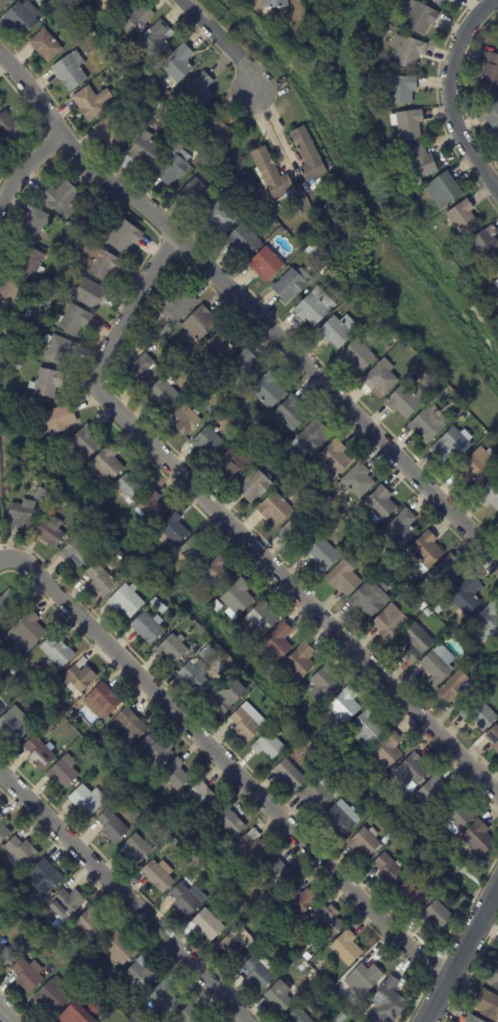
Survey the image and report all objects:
building: (121, 0)
building: (440, 2)
building: (4, 4)
building: (105, 4)
building: (274, 4)
building: (134, 18)
building: (422, 18)
building: (21, 19)
building: (155, 39)
road: (223, 41)
building: (45, 45)
building: (408, 51)
building: (177, 66)
building: (490, 70)
building: (70, 71)
building: (402, 90)
building: (199, 92)
road: (448, 96)
building: (0, 101)
building: (89, 103)
building: (492, 114)
building: (175, 122)
building: (410, 125)
building: (9, 128)
building: (110, 133)
building: (217, 133)
building: (188, 135)
building: (398, 149)
building: (142, 153)
building: (308, 155)
building: (422, 163)
building: (393, 164)
building: (173, 165)
road: (23, 169)
building: (271, 174)
building: (231, 179)
building: (245, 181)
building: (444, 191)
building: (196, 194)
building: (414, 198)
building: (62, 199)
building: (220, 218)
building: (249, 218)
building: (463, 218)
building: (268, 219)
building: (35, 225)
building: (274, 225)
building: (281, 231)
building: (89, 234)
building: (123, 236)
building: (243, 241)
building: (488, 245)
building: (317, 246)
building: (458, 254)
building: (28, 263)
building: (99, 263)
building: (266, 264)
building: (495, 271)
building: (292, 285)
building: (90, 294)
building: (10, 297)
building: (39, 299)
building: (178, 305)
building: (315, 308)
road: (249, 312)
building: (366, 313)
building: (74, 321)
building: (199, 324)
building: (166, 329)
building: (337, 332)
building: (29, 333)
building: (151, 337)
building: (137, 341)
building: (220, 348)
building: (57, 350)
building: (180, 350)
building: (357, 356)
building: (15, 365)
building: (245, 368)
building: (142, 371)
building: (422, 372)
building: (380, 379)
building: (44, 382)
building: (268, 391)
building: (162, 395)
building: (20, 402)
building: (406, 402)
building: (452, 405)
building: (291, 413)
building: (235, 414)
building: (462, 419)
building: (59, 420)
building: (186, 420)
building: (429, 425)
building: (250, 432)
building: (313, 437)
building: (488, 441)
building: (208, 442)
building: (85, 443)
building: (260, 444)
building: (453, 445)
building: (334, 460)
building: (108, 465)
building: (235, 466)
building: (477, 467)
building: (307, 479)
building: (357, 482)
building: (254, 486)
building: (132, 487)
building: (490, 495)
building: (41, 496)
building: (381, 505)
building: (152, 509)
building: (275, 509)
building: (21, 516)
building: (401, 530)
building: (174, 531)
building: (297, 532)
building: (50, 533)
road: (239, 533)
building: (376, 538)
building: (195, 552)
building: (426, 552)
building: (76, 553)
building: (323, 556)
building: (363, 561)
building: (118, 566)
building: (446, 575)
building: (216, 576)
building: (343, 579)
building: (100, 582)
building: (397, 584)
building: (466, 597)
building: (369, 598)
building: (238, 599)
building: (126, 602)
building: (9, 605)
building: (422, 607)
building: (438, 610)
building: (427, 613)
building: (261, 621)
building: (391, 623)
building: (487, 624)
building: (147, 628)
building: (27, 631)
building: (278, 644)
building: (416, 644)
building: (497, 645)
building: (173, 649)
building: (57, 651)
building: (204, 652)
building: (15, 662)
building: (300, 663)
building: (438, 666)
building: (479, 667)
building: (79, 677)
building: (195, 677)
building: (326, 684)
building: (288, 686)
building: (458, 690)
building: (45, 695)
building: (225, 700)
building: (102, 701)
building: (42, 704)
building: (345, 707)
building: (1, 709)
building: (479, 715)
building: (129, 724)
building: (13, 726)
building: (245, 727)
building: (368, 730)
building: (493, 739)
building: (96, 742)
building: (269, 747)
building: (155, 750)
building: (39, 753)
building: (388, 753)
road: (225, 761)
building: (63, 771)
building: (412, 772)
building: (174, 775)
building: (291, 777)
building: (143, 778)
building: (388, 779)
building: (125, 793)
building: (319, 795)
building: (203, 797)
building: (433, 797)
building: (132, 798)
building: (405, 798)
building: (86, 800)
building: (457, 817)
building: (341, 820)
building: (229, 821)
building: (433, 826)
building: (111, 827)
building: (3, 830)
building: (185, 835)
building: (479, 840)
building: (175, 842)
building: (365, 843)
building: (137, 849)
building: (254, 849)
building: (20, 852)
building: (202, 865)
building: (389, 871)
building: (159, 875)
building: (274, 875)
building: (44, 877)
building: (221, 880)
building: (225, 889)
road: (123, 893)
building: (409, 897)
building: (185, 900)
building: (299, 903)
building: (66, 904)
building: (33, 905)
building: (262, 907)
building: (437, 917)
building: (325, 922)
building: (90, 925)
building: (207, 925)
building: (9, 927)
building: (264, 932)
building: (283, 933)
building: (291, 934)
building: (261, 938)
building: (236, 943)
building: (263, 948)
building: (346, 948)
building: (118, 949)
road: (460, 953)
building: (5, 956)
building: (62, 958)
building: (307, 958)
building: (259, 972)
building: (142, 973)
building: (27, 975)
building: (494, 977)
building: (365, 978)
building: (315, 979)
building: (319, 984)
building: (109, 991)
building: (339, 991)
building: (90, 994)
building: (52, 995)
building: (280, 997)
building: (163, 999)
building: (390, 1000)
building: (487, 1005)
building: (365, 1007)
building: (81, 1013)
building: (190, 1015)
building: (299, 1016)
building: (341, 1018)
road: (2, 1019)
building: (472, 1019)

